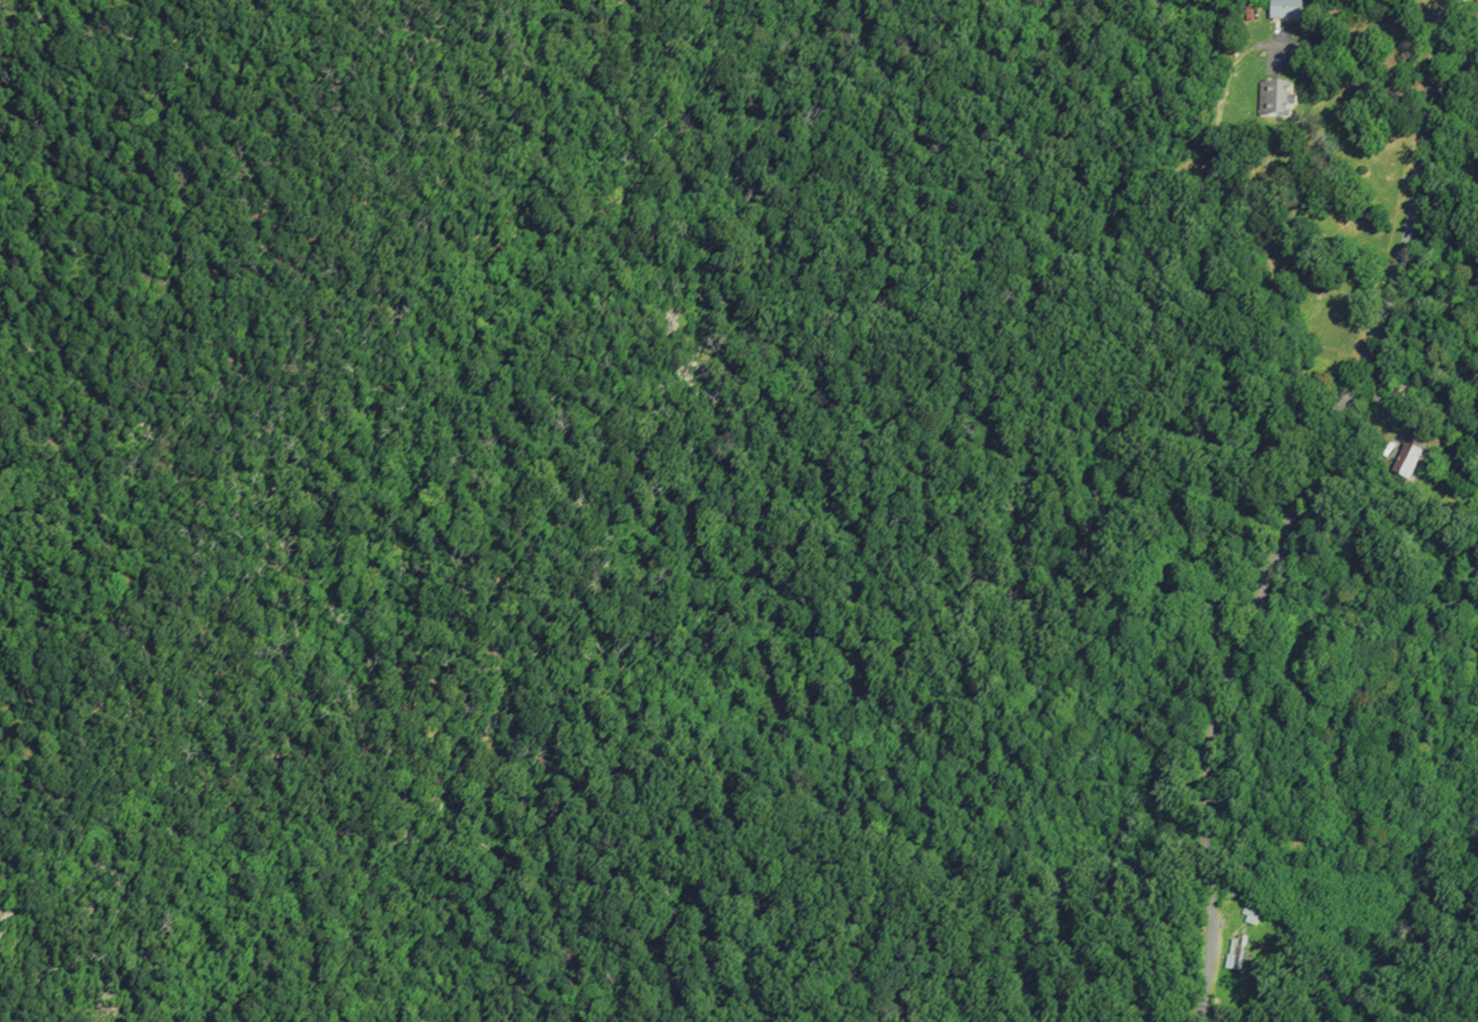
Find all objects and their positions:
building: (1477, 7)
building: (1286, 10)
building: (1477, 17)
road: (1453, 18)
road: (1348, 33)
building: (1276, 100)
building: (1190, 184)
road: (1382, 411)
building: (1406, 459)
road: (1299, 508)
building: (1251, 913)
building: (1237, 953)

